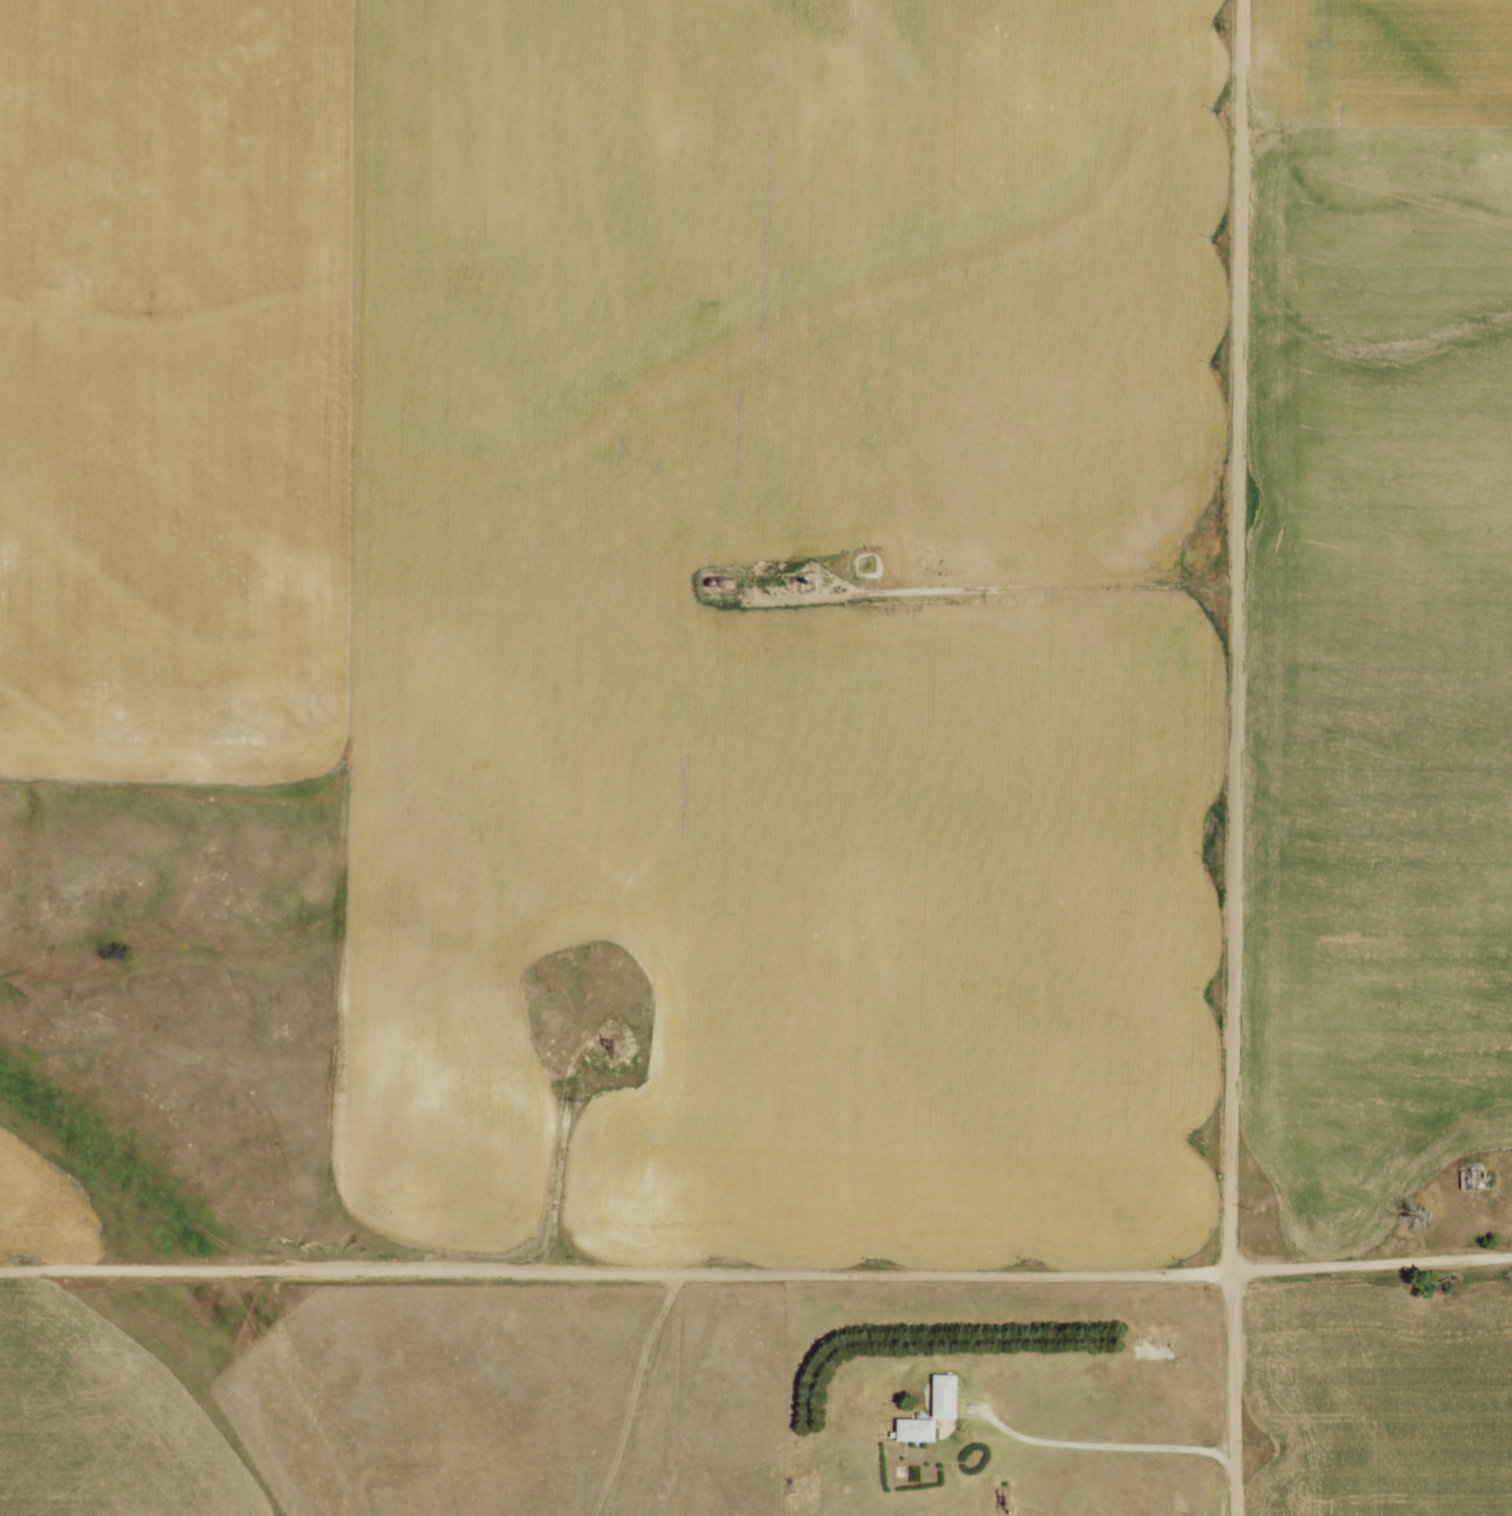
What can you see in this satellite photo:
road: (809, 563)
crop: (658, 572)
petroleum well: (807, 579)
road: (1049, 585)
crop: (1378, 608)
road: (1235, 758)
road: (616, 1023)
petroleum well: (613, 1039)
building: (1475, 1166)
road: (554, 1177)
crop: (46, 1206)
road: (756, 1271)
building: (948, 1393)
crop: (1382, 1397)
crop: (103, 1421)
building: (919, 1427)
road: (1100, 1444)

